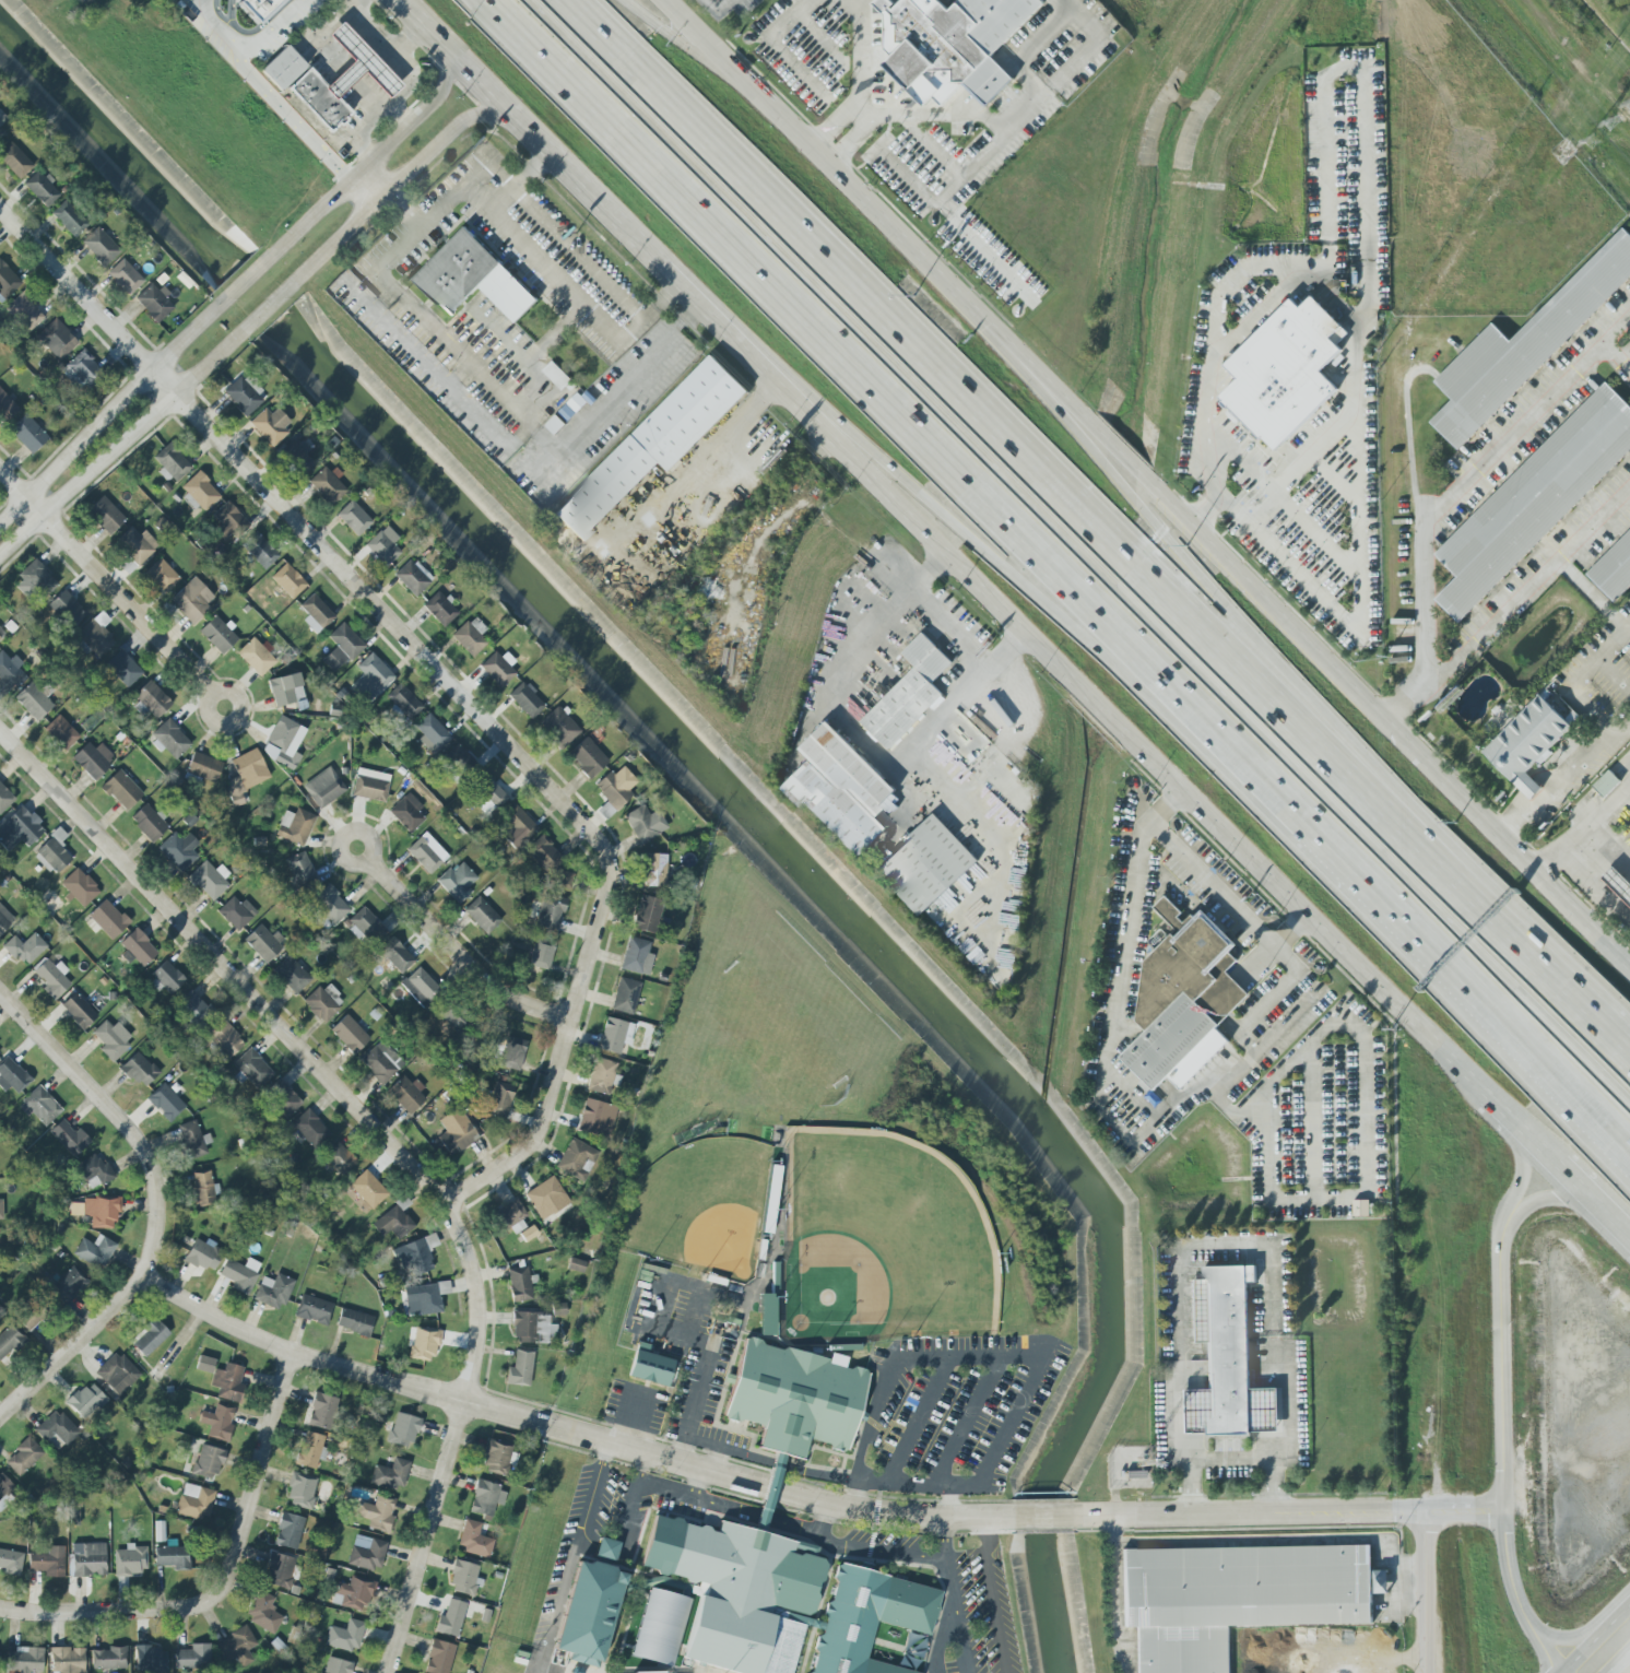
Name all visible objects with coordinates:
building: (259, 9)
road: (717, 11)
road: (418, 21)
road: (422, 22)
road: (251, 31)
road: (699, 37)
road: (680, 39)
road: (410, 44)
building: (950, 44)
road: (248, 46)
road: (780, 48)
road: (394, 61)
building: (283, 68)
road: (345, 73)
building: (1374, 74)
road: (650, 75)
building: (341, 81)
road: (287, 116)
power tower: (1610, 117)
building: (2, 118)
road: (831, 125)
road: (366, 130)
building: (0, 131)
power tower: (1596, 131)
road: (849, 142)
road: (1366, 158)
building: (14, 161)
road: (957, 172)
road: (908, 176)
road: (519, 178)
building: (42, 189)
road: (361, 193)
road: (597, 200)
road: (404, 210)
road: (875, 210)
building: (69, 219)
road: (975, 238)
road: (529, 246)
building: (99, 247)
building: (125, 276)
building: (472, 278)
building: (7, 282)
road: (236, 286)
building: (154, 303)
road: (261, 309)
road: (1259, 310)
building: (24, 313)
building: (56, 339)
building: (1525, 345)
road: (931, 356)
building: (81, 370)
building: (1285, 370)
building: (557, 375)
road: (615, 391)
building: (241, 396)
road: (497, 398)
building: (7, 408)
building: (269, 425)
building: (27, 433)
building: (654, 445)
building: (295, 457)
road: (1241, 460)
road: (937, 461)
building: (172, 463)
road: (1295, 473)
road: (694, 474)
building: (327, 486)
building: (200, 491)
road: (1451, 498)
building: (1534, 498)
building: (105, 515)
building: (354, 518)
building: (229, 521)
road: (839, 531)
road: (1318, 534)
road: (1206, 542)
building: (135, 545)
building: (383, 545)
building: (260, 552)
road: (1078, 555)
road: (744, 567)
building: (1614, 568)
building: (161, 575)
building: (413, 577)
building: (287, 580)
building: (35, 581)
road: (105, 581)
road: (1529, 582)
building: (191, 600)
road: (1217, 603)
road: (869, 605)
building: (66, 609)
building: (440, 609)
building: (316, 613)
road: (1629, 628)
building: (1, 633)
building: (96, 634)
building: (217, 634)
road: (1078, 635)
building: (470, 636)
road: (1613, 645)
building: (341, 647)
road: (966, 655)
building: (256, 657)
building: (498, 668)
building: (122, 669)
building: (10, 673)
building: (374, 673)
road: (444, 679)
road: (223, 690)
building: (286, 691)
building: (909, 693)
building: (152, 698)
building: (525, 700)
building: (33, 702)
building: (403, 702)
road: (1283, 707)
road: (1121, 724)
building: (558, 728)
building: (60, 732)
building: (432, 734)
building: (170, 739)
building: (1526, 739)
building: (283, 742)
building: (587, 757)
building: (93, 759)
building: (459, 763)
building: (203, 766)
building: (246, 775)
building: (1607, 782)
road: (1568, 784)
building: (370, 785)
building: (615, 785)
building: (1528, 786)
building: (323, 788)
building: (839, 789)
building: (121, 790)
building: (491, 791)
building: (4, 799)
road: (1165, 802)
building: (406, 812)
road: (1583, 818)
building: (149, 823)
building: (645, 824)
building: (295, 826)
building: (516, 827)
building: (20, 829)
road: (349, 832)
road: (1608, 836)
building: (178, 850)
road: (1514, 850)
building: (54, 852)
building: (426, 853)
building: (543, 855)
building: (926, 864)
building: (300, 871)
building: (654, 871)
building: (210, 879)
building: (563, 879)
building: (457, 882)
building: (1618, 883)
building: (79, 887)
road: (1593, 889)
building: (330, 904)
building: (550, 911)
building: (236, 912)
building: (647, 914)
building: (481, 915)
building: (4, 919)
building: (107, 919)
building: (364, 926)
building: (263, 942)
building: (138, 947)
building: (25, 949)
road: (1529, 953)
road: (458, 954)
building: (541, 954)
building: (395, 955)
building: (637, 956)
road: (1122, 963)
road: (222, 967)
building: (291, 975)
building: (167, 977)
building: (51, 978)
building: (420, 986)
building: (625, 995)
building: (1184, 1000)
building: (323, 1002)
building: (194, 1010)
building: (78, 1011)
building: (349, 1034)
building: (615, 1035)
building: (111, 1039)
building: (224, 1039)
road: (1513, 1041)
building: (0, 1049)
building: (512, 1053)
building: (381, 1062)
building: (252, 1069)
building: (139, 1070)
building: (12, 1076)
building: (601, 1076)
building: (407, 1094)
building: (282, 1098)
building: (499, 1099)
building: (165, 1103)
road: (1361, 1105)
building: (39, 1106)
road: (116, 1118)
building: (595, 1118)
road: (1311, 1119)
building: (308, 1128)
road: (1524, 1128)
building: (456, 1131)
building: (69, 1138)
building: (193, 1140)
building: (339, 1158)
building: (576, 1159)
road: (1521, 1163)
building: (92, 1173)
building: (201, 1189)
building: (368, 1189)
building: (546, 1198)
road: (1595, 1198)
road: (1552, 1199)
park: (696, 1205)
building: (1361, 1207)
building: (1, 1209)
building: (101, 1212)
building: (509, 1217)
building: (394, 1221)
building: (528, 1234)
park: (881, 1238)
road: (1214, 1239)
building: (95, 1251)
building: (416, 1254)
building: (203, 1256)
building: (576, 1264)
building: (239, 1274)
building: (519, 1284)
building: (68, 1285)
building: (273, 1291)
building: (424, 1298)
building: (314, 1309)
building: (558, 1309)
building: (29, 1318)
building: (354, 1321)
building: (532, 1328)
building: (149, 1338)
building: (8, 1340)
building: (423, 1344)
road: (71, 1346)
road: (990, 1356)
building: (1226, 1359)
building: (204, 1364)
building: (520, 1368)
building: (650, 1368)
building: (117, 1374)
building: (227, 1381)
building: (795, 1398)
building: (86, 1401)
building: (321, 1411)
road: (692, 1415)
road: (918, 1419)
road: (966, 1419)
building: (217, 1423)
road: (1287, 1424)
road: (567, 1428)
building: (403, 1429)
road: (1176, 1436)
road: (451, 1438)
road: (1502, 1446)
road: (717, 1447)
building: (311, 1451)
building: (496, 1456)
building: (23, 1457)
road: (718, 1459)
building: (208, 1462)
road: (776, 1464)
building: (390, 1474)
road: (255, 1476)
road: (818, 1476)
road: (906, 1482)
road: (695, 1483)
building: (3, 1484)
building: (300, 1489)
road: (635, 1493)
building: (484, 1498)
building: (194, 1501)
road: (696, 1501)
road: (1287, 1510)
building: (377, 1512)
road: (1041, 1515)
road: (818, 1517)
road: (761, 1518)
road: (789, 1528)
building: (288, 1531)
building: (473, 1540)
road: (1261, 1542)
building: (606, 1548)
road: (878, 1548)
building: (367, 1553)
road: (571, 1556)
building: (173, 1557)
building: (87, 1559)
building: (48, 1562)
building: (130, 1562)
building: (11, 1563)
building: (279, 1570)
road: (1425, 1590)
building: (353, 1593)
road: (994, 1594)
road: (949, 1595)
building: (1238, 1598)
building: (779, 1601)
road: (107, 1611)
building: (589, 1612)
building: (263, 1613)
building: (450, 1618)
building: (660, 1627)
building: (345, 1636)
road: (1569, 1638)
road: (937, 1640)
road: (1596, 1642)
building: (237, 1647)
building: (193, 1657)
building: (439, 1657)
building: (109, 1658)
building: (150, 1659)
building: (24, 1660)
building: (67, 1660)
building: (335, 1665)
road: (1623, 1668)
road: (1623, 1671)
building: (651, 1672)

